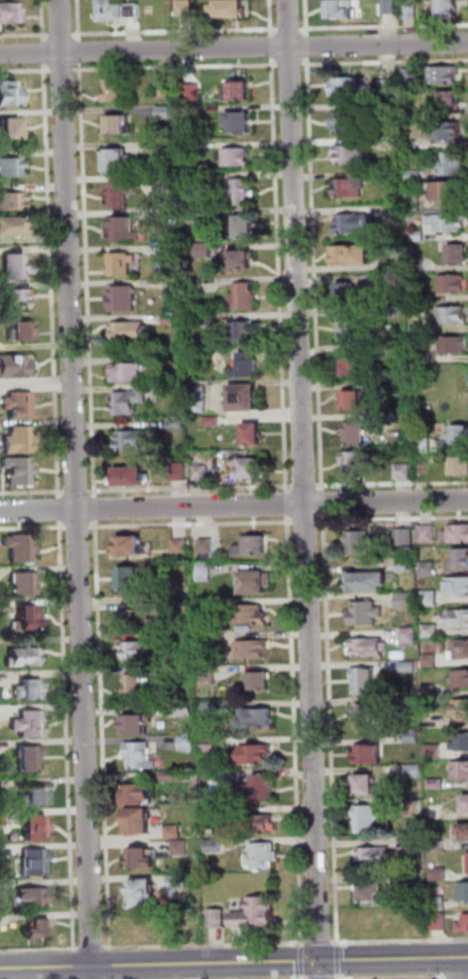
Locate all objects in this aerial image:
building: (187, 8)
building: (391, 8)
building: (230, 9)
building: (343, 10)
building: (450, 10)
building: (121, 11)
building: (411, 12)
building: (11, 15)
road: (308, 17)
road: (272, 18)
road: (80, 20)
road: (44, 21)
road: (385, 26)
road: (292, 28)
road: (177, 31)
road: (26, 34)
road: (63, 34)
road: (310, 46)
road: (273, 47)
road: (234, 48)
road: (80, 51)
road: (45, 52)
road: (385, 62)
road: (292, 65)
road: (178, 67)
road: (65, 69)
road: (26, 70)
building: (446, 74)
building: (414, 76)
building: (348, 86)
building: (391, 86)
building: (120, 91)
building: (167, 91)
building: (240, 92)
building: (11, 95)
building: (452, 102)
building: (393, 107)
building: (190, 110)
building: (166, 112)
building: (345, 122)
building: (242, 124)
building: (119, 126)
building: (10, 129)
building: (450, 130)
building: (189, 147)
building: (165, 149)
building: (353, 154)
building: (239, 157)
building: (118, 161)
building: (453, 163)
building: (12, 167)
building: (417, 173)
building: (164, 182)
building: (191, 184)
building: (354, 185)
building: (450, 190)
building: (241, 192)
building: (122, 195)
building: (415, 198)
building: (11, 201)
building: (399, 208)
building: (192, 216)
building: (171, 217)
building: (357, 223)
building: (447, 223)
building: (246, 228)
building: (12, 230)
building: (125, 230)
building: (419, 235)
building: (206, 251)
building: (172, 253)
building: (460, 255)
building: (355, 256)
building: (241, 263)
building: (124, 264)
building: (17, 268)
road: (281, 275)
road: (317, 275)
road: (89, 279)
road: (54, 280)
building: (178, 283)
building: (454, 283)
building: (198, 284)
building: (351, 295)
building: (246, 297)
building: (16, 299)
building: (124, 299)
building: (454, 315)
building: (174, 318)
building: (211, 319)
building: (425, 325)
building: (353, 326)
building: (133, 330)
building: (22, 333)
building: (242, 334)
building: (455, 345)
building: (378, 348)
building: (425, 357)
building: (354, 363)
building: (14, 366)
building: (249, 367)
building: (133, 374)
building: (387, 385)
building: (200, 398)
building: (132, 400)
building: (246, 400)
building: (354, 401)
building: (20, 404)
building: (388, 416)
building: (214, 420)
building: (179, 423)
building: (357, 433)
building: (255, 436)
building: (460, 436)
building: (20, 440)
building: (138, 440)
building: (424, 446)
building: (437, 460)
building: (357, 464)
building: (462, 467)
building: (20, 470)
building: (251, 471)
building: (404, 471)
building: (203, 473)
building: (180, 475)
building: (134, 478)
road: (393, 483)
road: (306, 486)
road: (77, 489)
road: (192, 489)
road: (305, 489)
road: (79, 490)
road: (33, 491)
road: (324, 503)
road: (287, 504)
road: (234, 506)
road: (96, 508)
road: (60, 509)
road: (393, 520)
road: (306, 522)
road: (192, 524)
road: (33, 527)
road: (78, 527)
building: (426, 533)
building: (456, 533)
building: (404, 537)
building: (359, 542)
building: (131, 544)
building: (180, 545)
building: (252, 545)
building: (21, 546)
building: (206, 547)
building: (462, 556)
building: (406, 564)
building: (428, 569)
building: (204, 571)
building: (131, 579)
building: (368, 579)
building: (255, 581)
building: (25, 583)
building: (458, 585)
building: (430, 598)
building: (406, 601)
building: (205, 605)
building: (184, 608)
building: (366, 611)
building: (250, 615)
building: (28, 617)
building: (139, 617)
building: (458, 617)
building: (431, 630)
building: (409, 636)
building: (207, 638)
building: (368, 645)
building: (251, 649)
building: (460, 649)
building: (140, 651)
building: (22, 657)
building: (430, 660)
building: (408, 666)
building: (186, 673)
building: (208, 674)
building: (461, 677)
building: (364, 679)
building: (262, 680)
building: (135, 686)
building: (30, 689)
building: (430, 691)
building: (209, 708)
building: (461, 708)
building: (186, 709)
building: (363, 713)
building: (256, 719)
building: (30, 723)
building: (136, 724)
road: (330, 729)
road: (295, 731)
road: (102, 735)
road: (67, 736)
building: (412, 736)
building: (460, 740)
building: (187, 744)
building: (210, 745)
building: (434, 751)
building: (370, 752)
building: (256, 754)
building: (140, 756)
building: (30, 757)
building: (460, 769)
building: (413, 771)
building: (212, 775)
building: (170, 777)
building: (367, 783)
building: (436, 783)
building: (261, 787)
building: (139, 792)
building: (35, 795)
building: (466, 800)
building: (415, 807)
building: (213, 813)
building: (368, 818)
building: (2, 819)
building: (139, 819)
building: (258, 823)
building: (37, 827)
building: (464, 830)
building: (173, 831)
building: (416, 841)
building: (438, 844)
building: (214, 846)
building: (181, 848)
building: (2, 852)
building: (374, 854)
building: (144, 857)
building: (262, 857)
building: (467, 861)
building: (35, 862)
building: (438, 873)
building: (176, 885)
building: (465, 889)
building: (375, 890)
building: (142, 893)
building: (31, 897)
building: (439, 903)
building: (255, 914)
building: (217, 918)
building: (377, 918)
building: (440, 921)
building: (464, 924)
building: (141, 925)
building: (39, 927)
road: (401, 940)
road: (320, 941)
road: (205, 945)
road: (93, 948)
road: (41, 950)
road: (467, 956)
road: (338, 960)
road: (302, 961)
traffic signals: (319, 961)
road: (233, 963)
road: (110, 965)
road: (75, 966)
road: (464, 967)
road: (456, 976)
road: (303, 977)
road: (339, 977)
road: (389, 977)
road: (305, 978)
road: (320, 978)
road: (442, 978)

